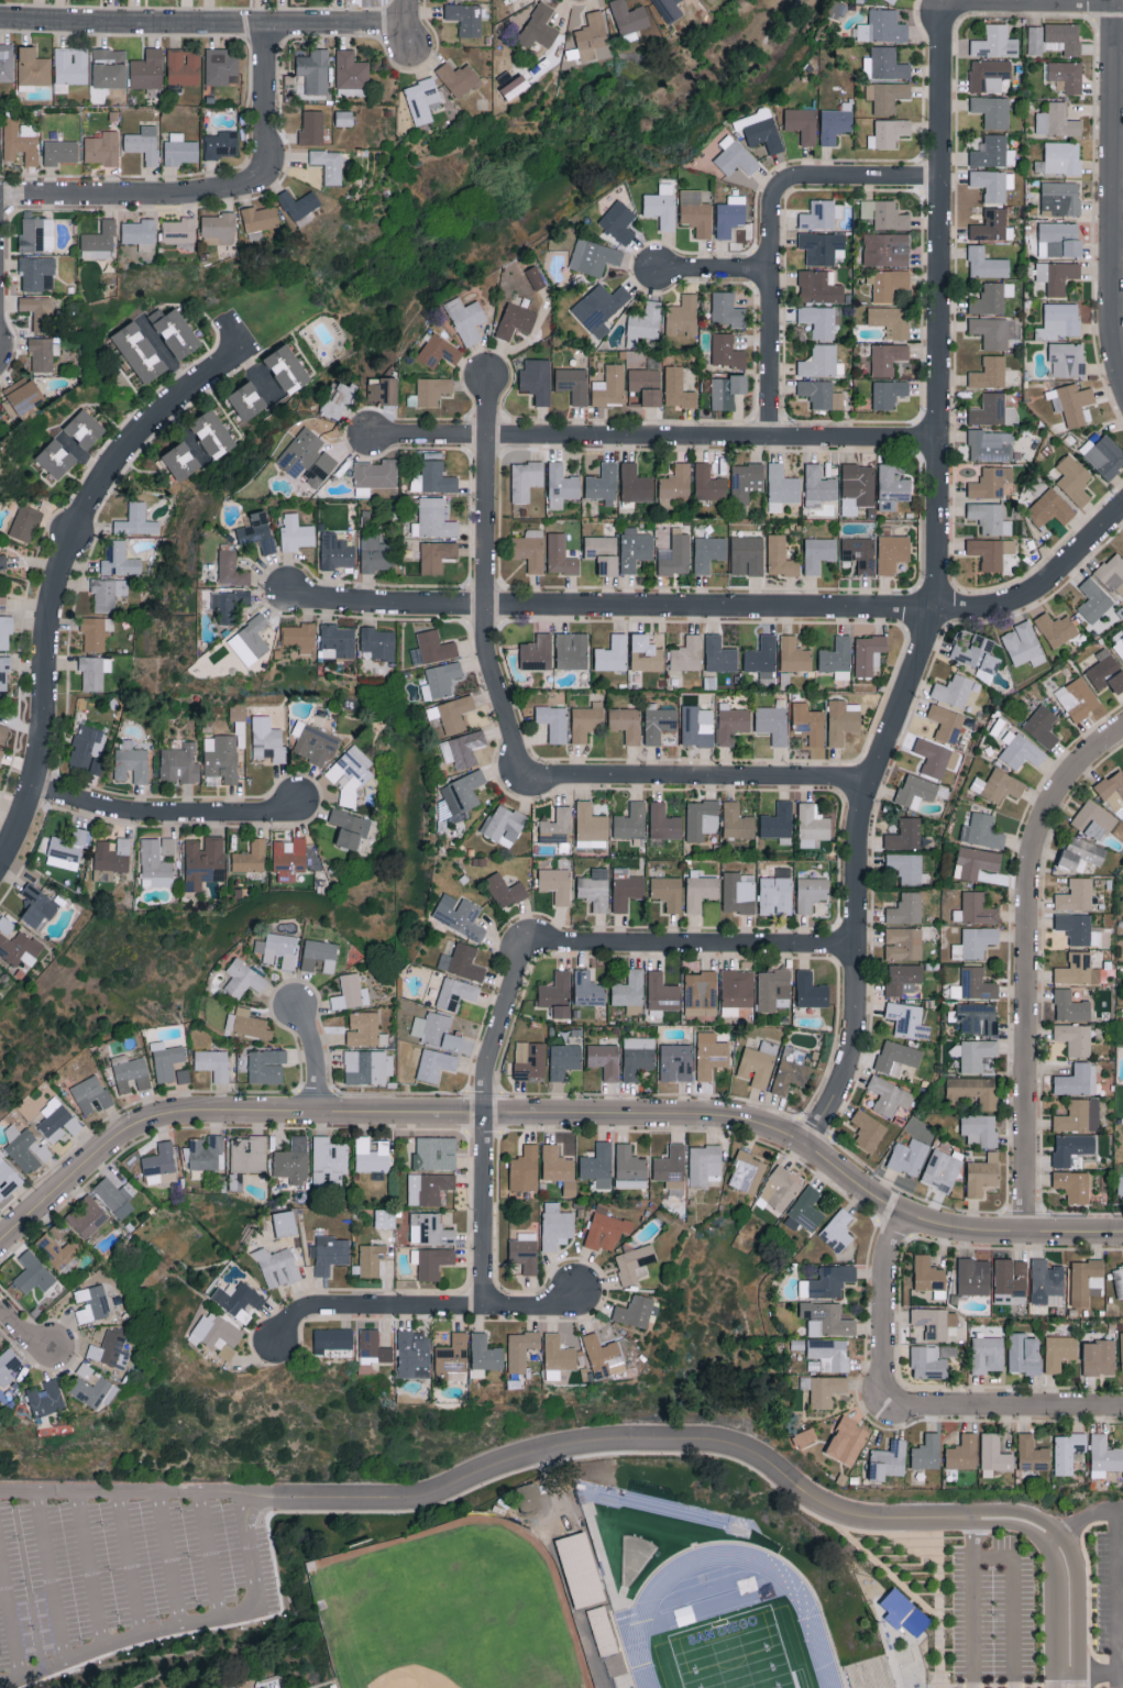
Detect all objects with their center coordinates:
road: (1076, 0)
building: (892, 1)
road: (955, 2)
building: (670, 9)
road: (408, 13)
building: (465, 18)
building: (629, 19)
road: (203, 23)
building: (539, 26)
building: (882, 26)
building: (591, 35)
building: (1054, 37)
building: (995, 42)
building: (7, 60)
building: (884, 64)
building: (32, 66)
building: (70, 66)
building: (184, 66)
building: (220, 66)
building: (109, 67)
building: (147, 69)
building: (313, 69)
building: (351, 71)
building: (989, 74)
building: (1066, 75)
building: (459, 78)
road: (263, 92)
building: (887, 96)
building: (421, 99)
building: (992, 111)
building: (343, 118)
building: (1057, 120)
building: (835, 122)
building: (802, 123)
building: (311, 126)
building: (759, 129)
building: (888, 132)
building: (20, 140)
building: (144, 141)
building: (221, 144)
building: (102, 147)
building: (180, 148)
building: (60, 151)
building: (993, 152)
building: (735, 156)
building: (1060, 157)
building: (329, 164)
building: (993, 184)
road: (1111, 189)
road: (139, 194)
building: (1060, 198)
building: (298, 203)
building: (661, 205)
building: (695, 211)
building: (884, 213)
building: (730, 214)
building: (818, 214)
building: (260, 218)
building: (618, 221)
building: (992, 225)
road: (769, 227)
building: (219, 228)
building: (179, 232)
building: (36, 233)
building: (140, 233)
building: (1059, 239)
building: (98, 241)
building: (823, 246)
building: (887, 249)
building: (593, 256)
building: (986, 263)
road: (712, 269)
building: (36, 272)
building: (1056, 275)
building: (535, 277)
building: (888, 283)
building: (819, 286)
building: (991, 298)
building: (599, 307)
building: (726, 309)
building: (38, 310)
building: (683, 316)
building: (466, 319)
building: (515, 320)
building: (818, 320)
building: (890, 320)
building: (1059, 321)
building: (643, 322)
building: (175, 331)
building: (991, 331)
building: (438, 350)
building: (139, 351)
building: (726, 351)
building: (41, 353)
building: (887, 357)
building: (1067, 358)
building: (822, 362)
building: (287, 367)
building: (989, 373)
building: (537, 379)
building: (573, 383)
building: (646, 384)
building: (609, 386)
building: (678, 388)
building: (382, 389)
building: (432, 389)
building: (726, 390)
building: (888, 393)
building: (822, 394)
building: (21, 396)
building: (339, 398)
building: (246, 400)
building: (1071, 402)
building: (992, 410)
building: (85, 428)
building: (212, 433)
road: (651, 435)
building: (990, 445)
building: (1103, 455)
building: (307, 456)
building: (56, 457)
building: (180, 460)
building: (375, 473)
building: (433, 477)
building: (526, 478)
building: (1074, 478)
building: (746, 481)
building: (990, 482)
building: (708, 483)
building: (603, 484)
building: (636, 484)
building: (675, 484)
building: (561, 485)
building: (818, 486)
building: (857, 486)
building: (782, 487)
building: (892, 487)
building: (1049, 508)
building: (990, 517)
building: (433, 519)
building: (136, 520)
building: (25, 522)
building: (257, 531)
building: (296, 532)
building: (635, 548)
building: (529, 549)
building: (335, 551)
building: (990, 551)
building: (376, 552)
building: (708, 552)
building: (747, 552)
building: (892, 552)
building: (603, 553)
building: (818, 553)
building: (859, 553)
building: (436, 555)
building: (560, 555)
building: (674, 555)
building: (780, 556)
building: (2, 561)
building: (231, 569)
building: (1113, 573)
road: (58, 576)
road: (484, 578)
road: (1041, 581)
road: (935, 586)
building: (108, 593)
building: (1093, 600)
building: (1, 602)
building: (229, 604)
road: (610, 605)
building: (1057, 628)
building: (5, 630)
building: (96, 632)
building: (254, 637)
building: (299, 637)
building: (338, 641)
building: (378, 642)
building: (1023, 644)
building: (1119, 647)
building: (432, 648)
building: (571, 650)
building: (537, 652)
building: (613, 653)
building: (646, 653)
building: (686, 653)
building: (719, 654)
building: (793, 654)
building: (868, 654)
building: (762, 657)
building: (978, 657)
building: (837, 658)
building: (93, 671)
building: (1105, 672)
building: (4, 673)
building: (440, 680)
building: (953, 689)
building: (1077, 698)
building: (452, 713)
building: (586, 720)
building: (843, 720)
building: (553, 721)
building: (239, 722)
building: (731, 722)
building: (773, 722)
building: (808, 722)
building: (946, 722)
building: (626, 724)
building: (659, 724)
building: (1042, 726)
building: (695, 727)
building: (268, 743)
building: (313, 743)
building: (462, 748)
building: (87, 749)
building: (1020, 750)
building: (1, 753)
building: (221, 757)
building: (936, 758)
building: (131, 761)
building: (179, 763)
building: (351, 773)
road: (691, 775)
building: (998, 785)
building: (1112, 790)
building: (915, 791)
building: (462, 794)
road: (165, 814)
building: (702, 818)
building: (1094, 820)
building: (631, 821)
building: (664, 821)
building: (737, 821)
building: (778, 823)
building: (590, 824)
building: (504, 825)
building: (812, 825)
building: (557, 826)
building: (350, 828)
building: (981, 831)
building: (905, 835)
building: (168, 845)
building: (68, 849)
building: (1081, 853)
building: (112, 854)
building: (251, 857)
building: (289, 858)
building: (205, 862)
building: (976, 862)
building: (155, 863)
building: (906, 867)
building: (103, 874)
building: (555, 884)
building: (595, 889)
building: (626, 889)
building: (505, 890)
building: (668, 892)
building: (700, 892)
building: (738, 892)
building: (811, 893)
building: (775, 895)
building: (1076, 895)
building: (37, 906)
building: (906, 908)
building: (975, 909)
building: (467, 919)
building: (1078, 928)
road: (690, 942)
building: (975, 942)
building: (16, 944)
building: (903, 944)
building: (278, 948)
building: (319, 955)
road: (1025, 960)
building: (462, 961)
building: (1077, 969)
building: (902, 978)
building: (243, 979)
building: (973, 984)
building: (772, 988)
building: (587, 989)
building: (736, 990)
building: (629, 991)
building: (350, 992)
building: (455, 993)
building: (811, 993)
building: (557, 994)
building: (701, 994)
building: (662, 996)
building: (1070, 1006)
building: (978, 1018)
building: (907, 1020)
building: (246, 1023)
building: (364, 1029)
building: (434, 1029)
building: (1075, 1038)
building: (973, 1053)
building: (711, 1055)
road: (313, 1057)
building: (637, 1057)
building: (896, 1057)
building: (604, 1059)
building: (166, 1060)
building: (529, 1060)
building: (563, 1060)
building: (676, 1062)
building: (213, 1063)
building: (757, 1063)
building: (434, 1064)
building: (266, 1066)
building: (367, 1067)
building: (790, 1070)
building: (131, 1072)
building: (183, 1075)
building: (1077, 1080)
building: (975, 1090)
building: (91, 1094)
building: (889, 1095)
road: (554, 1113)
building: (1079, 1116)
road: (483, 1119)
building: (57, 1121)
building: (868, 1129)
building: (980, 1129)
building: (25, 1148)
building: (206, 1152)
building: (436, 1152)
building: (249, 1154)
building: (372, 1157)
building: (909, 1157)
building: (328, 1159)
building: (132, 1160)
building: (293, 1160)
building: (704, 1163)
building: (161, 1165)
building: (557, 1165)
building: (598, 1165)
building: (630, 1168)
building: (525, 1169)
building: (671, 1169)
building: (942, 1170)
building: (747, 1172)
building: (982, 1174)
building: (8, 1179)
building: (1120, 1184)
building: (1072, 1185)
building: (428, 1188)
building: (778, 1190)
building: (114, 1196)
building: (805, 1211)
building: (86, 1216)
building: (385, 1218)
building: (285, 1223)
building: (555, 1226)
building: (429, 1229)
building: (606, 1229)
building: (837, 1231)
building: (56, 1246)
building: (525, 1251)
building: (329, 1254)
building: (371, 1259)
building: (431, 1261)
building: (635, 1264)
building: (277, 1267)
building: (33, 1273)
building: (927, 1273)
building: (973, 1276)
building: (1119, 1279)
building: (1011, 1280)
building: (1086, 1280)
building: (827, 1281)
building: (1046, 1281)
building: (238, 1299)
building: (91, 1303)
road: (421, 1304)
building: (636, 1312)
road: (885, 1315)
building: (827, 1319)
building: (936, 1322)
building: (991, 1331)
road: (24, 1333)
building: (216, 1334)
building: (332, 1341)
building: (373, 1348)
building: (110, 1349)
building: (520, 1349)
building: (1121, 1349)
building: (1059, 1350)
building: (1024, 1351)
building: (829, 1353)
building: (987, 1354)
building: (414, 1355)
building: (484, 1355)
building: (602, 1355)
building: (558, 1356)
building: (1099, 1356)
building: (452, 1358)
building: (927, 1361)
building: (8, 1365)
building: (91, 1387)
building: (823, 1389)
building: (45, 1398)
road: (1012, 1410)
building: (847, 1439)
road: (610, 1443)
building: (1067, 1450)
building: (926, 1452)
building: (962, 1452)
road: (608, 1453)
building: (1031, 1453)
building: (993, 1455)
building: (1104, 1455)
building: (888, 1459)
building: (527, 1498)
road: (1118, 1509)
road: (1080, 1519)
road: (968, 1537)
road: (1119, 1548)
road: (208, 1552)
road: (252, 1555)
road: (167, 1556)
road: (129, 1560)
road: (87, 1565)
parking lot: (124, 1565)
road: (48, 1569)
road: (275, 1569)
road: (889, 1571)
road: (1119, 1589)
parking lot: (1109, 1591)
building: (587, 1592)
road: (1089, 1595)
road: (1114, 1598)
road: (1011, 1600)
road: (8, 1607)
road: (938, 1610)
park: (450, 1611)
track: (725, 1611)
building: (904, 1611)
parking lot: (992, 1614)
road: (175, 1619)
road: (969, 1623)
road: (1119, 1630)
road: (141, 1643)
park: (733, 1653)
road: (1119, 1668)
road: (1089, 1669)
building: (870, 1675)

